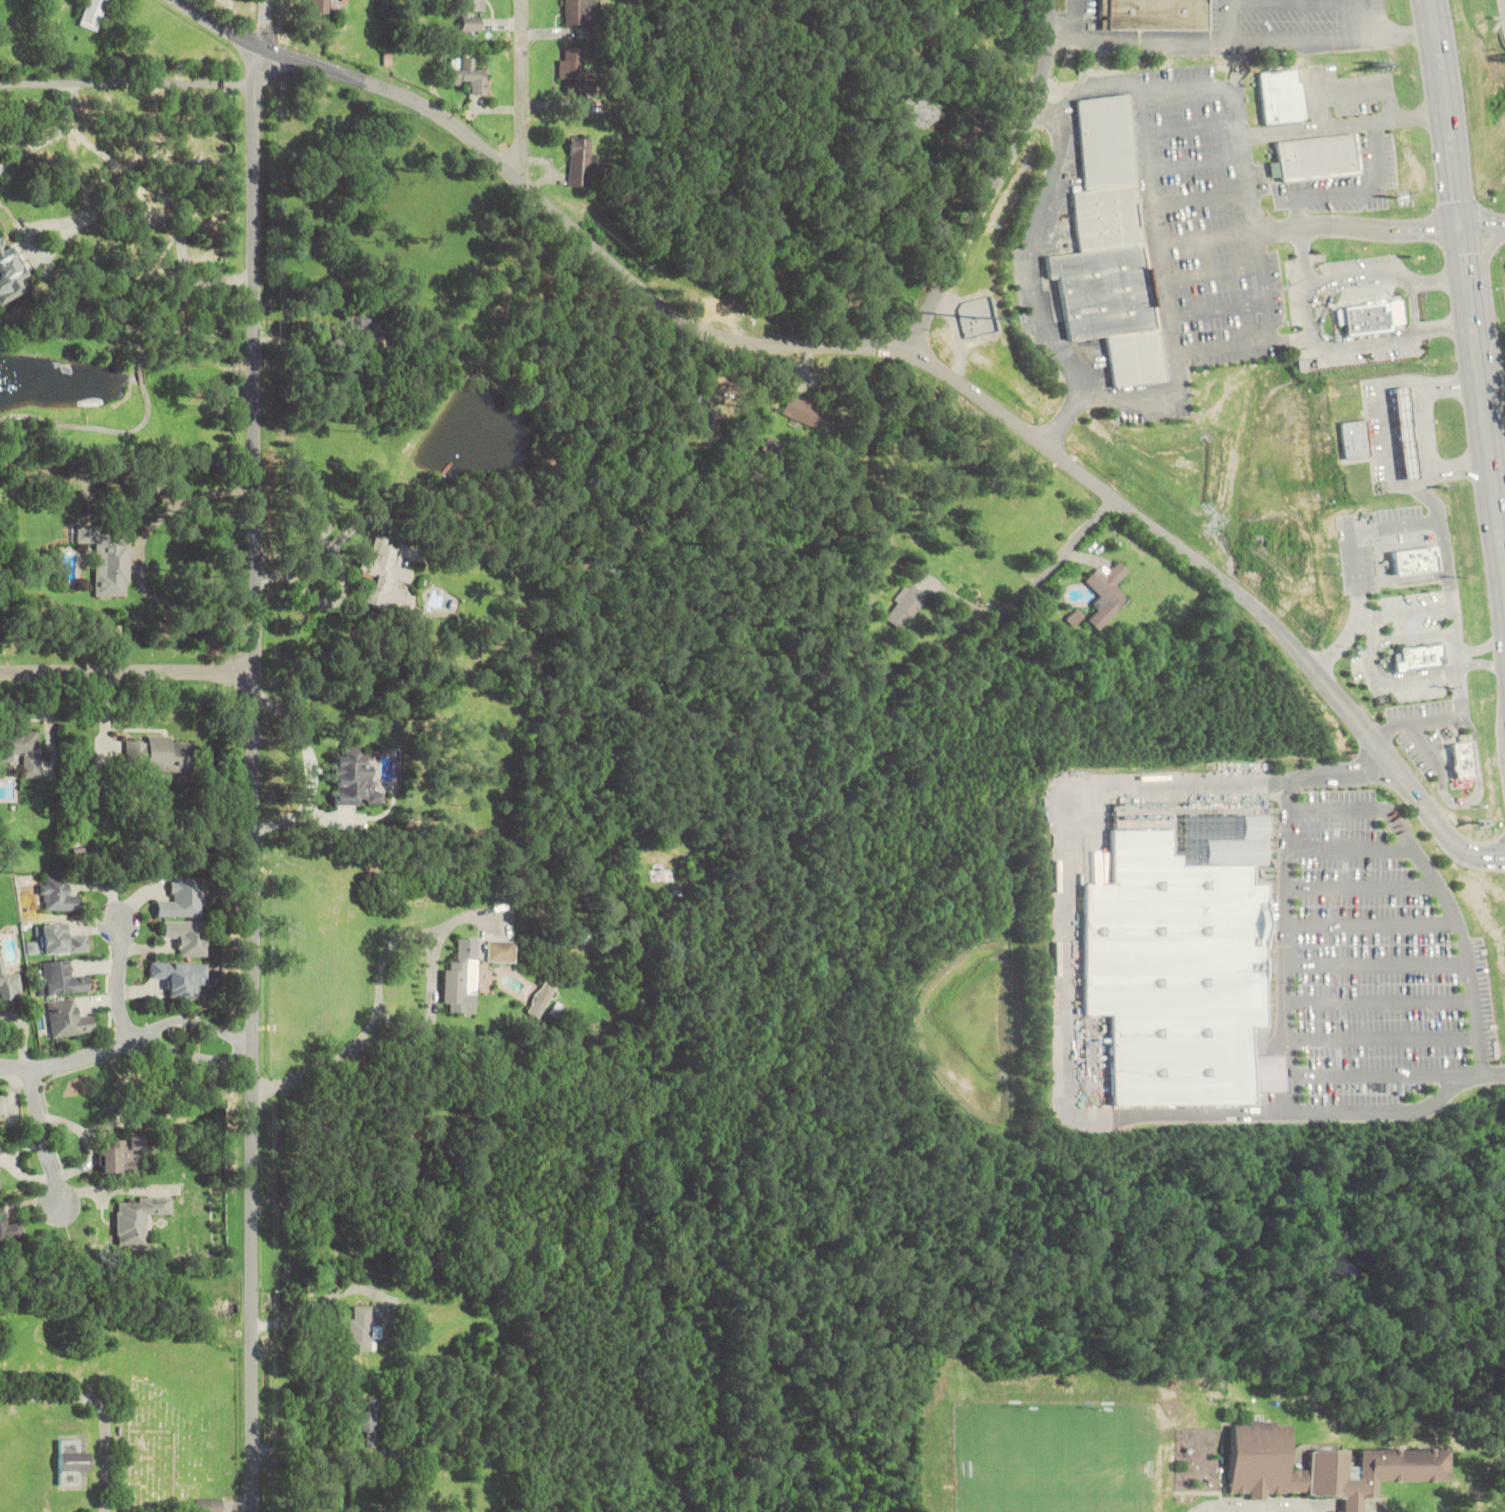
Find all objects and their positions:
building: (322, 5)
building: (579, 12)
building: (1151, 13)
building: (93, 14)
building: (473, 15)
road: (215, 18)
road: (261, 18)
building: (994, 41)
building: (576, 69)
building: (468, 75)
road: (1087, 87)
road: (521, 91)
building: (1279, 94)
road: (1343, 122)
road: (1194, 126)
building: (1105, 140)
building: (1314, 154)
road: (1199, 157)
building: (583, 162)
road: (1248, 168)
road: (993, 178)
road: (1204, 196)
building: (1109, 215)
road: (1310, 223)
traffic signals: (1460, 224)
road: (1482, 224)
road: (1038, 248)
road: (1485, 250)
road: (1300, 255)
road: (1213, 268)
building: (11, 273)
road: (1469, 286)
building: (1104, 288)
building: (772, 300)
road: (1321, 302)
road: (1411, 302)
road: (1218, 306)
road: (1170, 308)
road: (1301, 309)
building: (1362, 315)
building: (979, 318)
building: (364, 321)
road: (1244, 342)
building: (1132, 355)
road: (930, 361)
building: (804, 411)
building: (705, 419)
building: (1405, 430)
gas station: (1405, 430)
road: (1383, 434)
building: (1353, 436)
road: (1424, 454)
road: (1363, 530)
building: (1410, 558)
building: (108, 560)
building: (386, 578)
road: (1388, 578)
building: (1106, 593)
building: (905, 606)
road: (1409, 610)
building: (1075, 617)
road: (1363, 619)
road: (1453, 628)
road: (1482, 647)
building: (1420, 654)
road: (1378, 657)
road: (1482, 661)
road: (1369, 665)
road: (128, 672)
road: (1459, 682)
road: (1415, 718)
road: (1426, 743)
building: (22, 750)
building: (160, 754)
building: (1462, 757)
road: (259, 774)
building: (355, 779)
road: (1481, 785)
road: (1349, 845)
road: (1363, 885)
building: (59, 895)
road: (1443, 896)
building: (185, 899)
road: (1375, 923)
building: (188, 937)
building: (62, 940)
road: (1291, 949)
building: (503, 951)
road: (1381, 965)
road: (384, 973)
building: (1179, 973)
building: (181, 976)
building: (463, 978)
building: (63, 979)
road: (120, 979)
building: (10, 984)
building: (541, 1000)
road: (1384, 1004)
road: (1070, 1012)
building: (67, 1019)
road: (1386, 1036)
road: (405, 1037)
road: (126, 1044)
road: (1388, 1076)
building: (0, 1103)
road: (43, 1138)
building: (122, 1153)
building: (139, 1218)
building: (8, 1227)
building: (363, 1329)
building: (371, 1422)
building: (71, 1462)
building: (1322, 1466)
building: (210, 1505)

